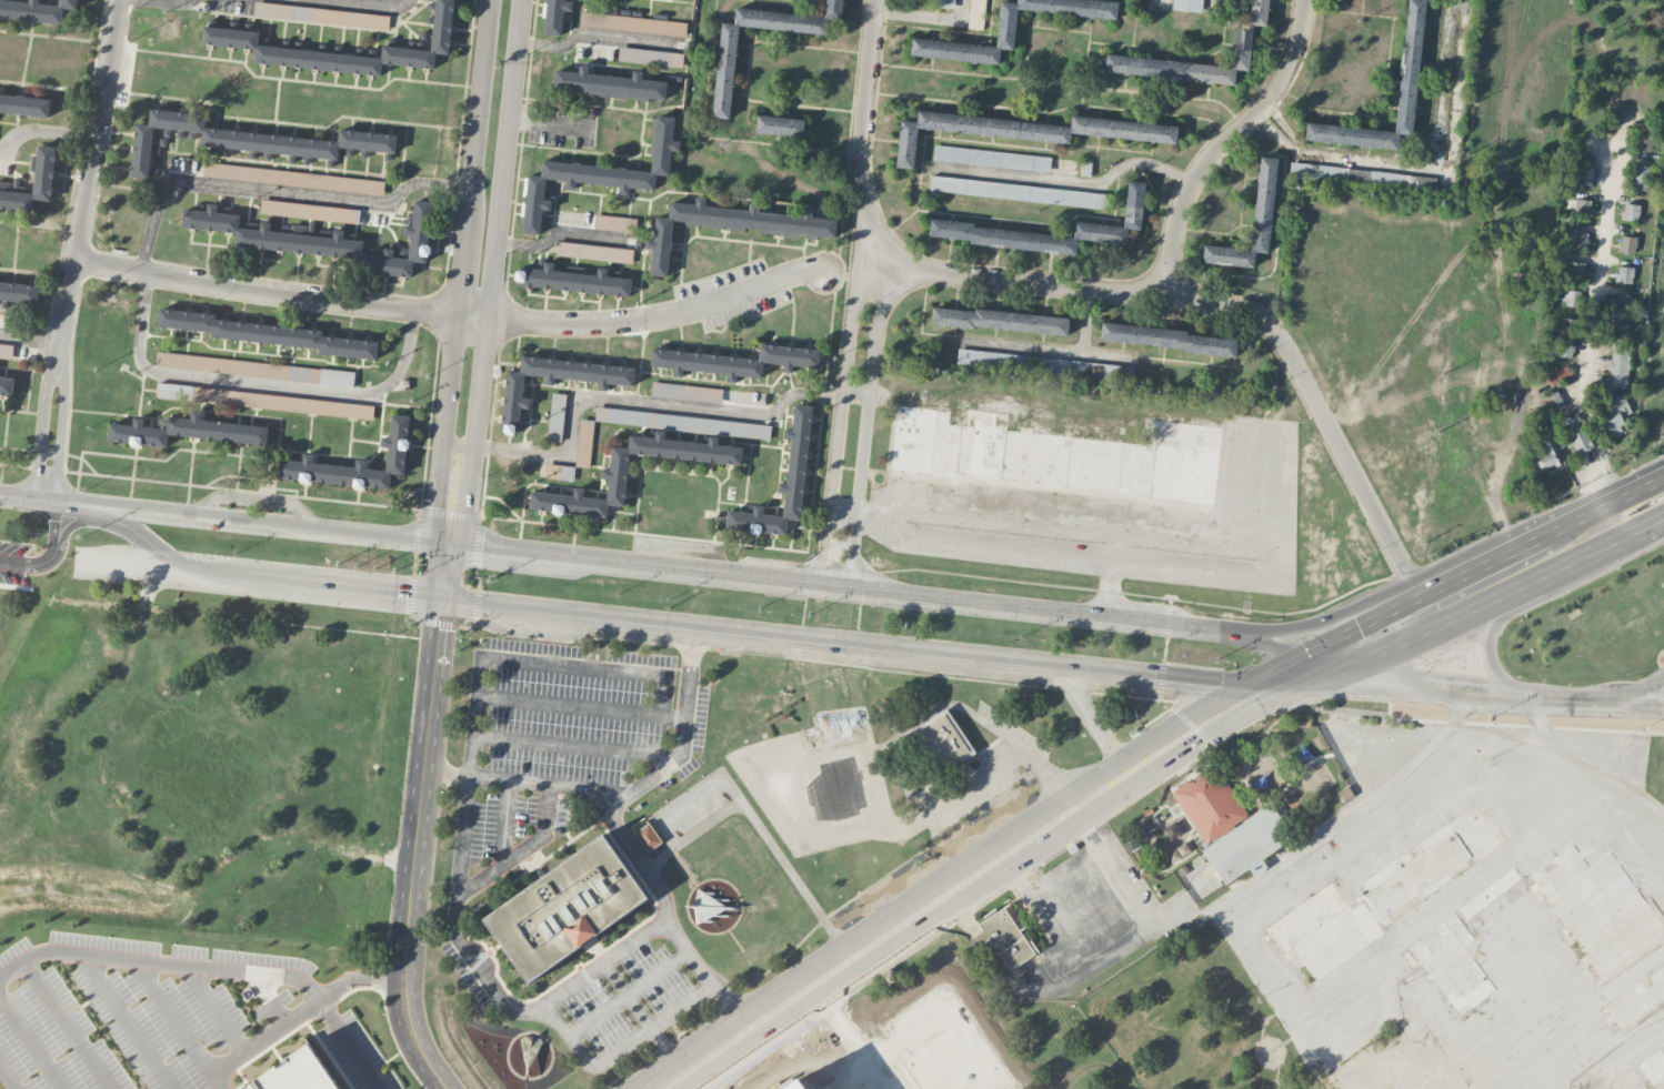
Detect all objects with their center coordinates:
road: (166, 3)
road: (363, 3)
building: (949, 3)
building: (1187, 4)
building: (36, 10)
building: (976, 13)
building: (321, 16)
road: (923, 16)
building: (553, 17)
building: (632, 23)
building: (1010, 29)
road: (594, 34)
building: (230, 36)
building: (1242, 40)
building: (650, 57)
building: (1410, 61)
building: (724, 75)
building: (608, 82)
road: (1060, 84)
building: (24, 104)
road: (474, 108)
road: (549, 123)
building: (780, 125)
building: (1025, 130)
road: (46, 131)
building: (1643, 138)
building: (248, 140)
road: (1222, 141)
building: (991, 158)
road: (1417, 168)
building: (1329, 173)
building: (600, 174)
building: (1585, 175)
building: (1638, 178)
building: (293, 179)
road: (1075, 181)
building: (1402, 182)
building: (31, 183)
road: (275, 191)
building: (1016, 191)
building: (1134, 199)
building: (1263, 201)
building: (1582, 206)
building: (310, 211)
building: (1630, 212)
building: (614, 223)
building: (729, 225)
road: (557, 232)
building: (272, 235)
building: (1578, 239)
building: (420, 241)
building: (1627, 244)
building: (594, 252)
road: (460, 264)
road: (73, 265)
building: (1575, 268)
building: (1624, 274)
building: (571, 279)
building: (19, 292)
road: (869, 293)
building: (1572, 298)
road: (491, 301)
building: (1622, 303)
road: (1225, 305)
road: (451, 310)
building: (1000, 320)
building: (1572, 327)
building: (1618, 331)
road: (1591, 332)
building: (268, 334)
building: (1169, 339)
road: (31, 340)
park: (1654, 346)
building: (1565, 347)
building: (6, 350)
building: (734, 361)
building: (1618, 366)
building: (254, 369)
road: (1520, 370)
building: (1558, 375)
road: (260, 382)
building: (7, 385)
building: (686, 392)
building: (513, 394)
building: (265, 401)
building: (1554, 401)
road: (633, 402)
building: (1615, 412)
building: (557, 416)
building: (682, 422)
road: (443, 425)
building: (186, 431)
building: (1575, 433)
building: (584, 443)
building: (397, 450)
building: (1056, 454)
building: (1548, 455)
building: (559, 472)
building: (614, 473)
building: (782, 484)
road: (1636, 490)
road: (43, 503)
traffic signals: (435, 507)
road: (1650, 527)
road: (64, 535)
traffic signals: (482, 547)
road: (1001, 548)
road: (34, 561)
road: (437, 569)
road: (722, 573)
road: (1425, 589)
traffic signals: (409, 595)
road: (1465, 614)
road: (1315, 624)
road: (681, 625)
traffic signals: (1349, 628)
traffic signals: (439, 629)
road: (1490, 651)
railway: (896, 663)
road: (1402, 672)
road: (624, 673)
traffic signals: (1419, 675)
traffic signals: (1176, 678)
road: (1655, 684)
road: (1371, 690)
road: (1555, 697)
road: (1090, 714)
road: (672, 718)
traffic signals: (1223, 726)
road: (683, 737)
building: (945, 740)
road: (574, 744)
road: (1552, 754)
railway: (1575, 758)
building: (1345, 794)
building: (1210, 804)
road: (794, 810)
road: (756, 825)
building: (645, 834)
road: (624, 838)
building: (1176, 841)
building: (1247, 844)
road: (988, 846)
road: (418, 849)
road: (519, 851)
road: (1022, 863)
road: (1272, 871)
road: (1066, 877)
building: (1383, 891)
road: (1127, 894)
road: (1446, 894)
road: (1030, 897)
road: (1084, 903)
road: (956, 904)
building: (565, 907)
building: (1598, 907)
building: (713, 911)
road: (1102, 929)
building: (979, 937)
road: (980, 937)
building: (1006, 937)
building: (1461, 947)
road: (238, 971)
road: (367, 978)
road: (489, 981)
road: (1062, 982)
building: (1637, 997)
road: (641, 1018)
park: (1165, 1028)
road: (904, 1033)
road: (352, 1041)
road: (854, 1043)
road: (969, 1043)
road: (621, 1049)
road: (701, 1058)
road: (926, 1060)
building: (1653, 1066)
road: (849, 1070)
building: (299, 1073)
road: (8, 1077)
building: (1627, 1081)
road: (985, 1083)
building: (795, 1085)
road: (834, 1085)
road: (984, 1087)

